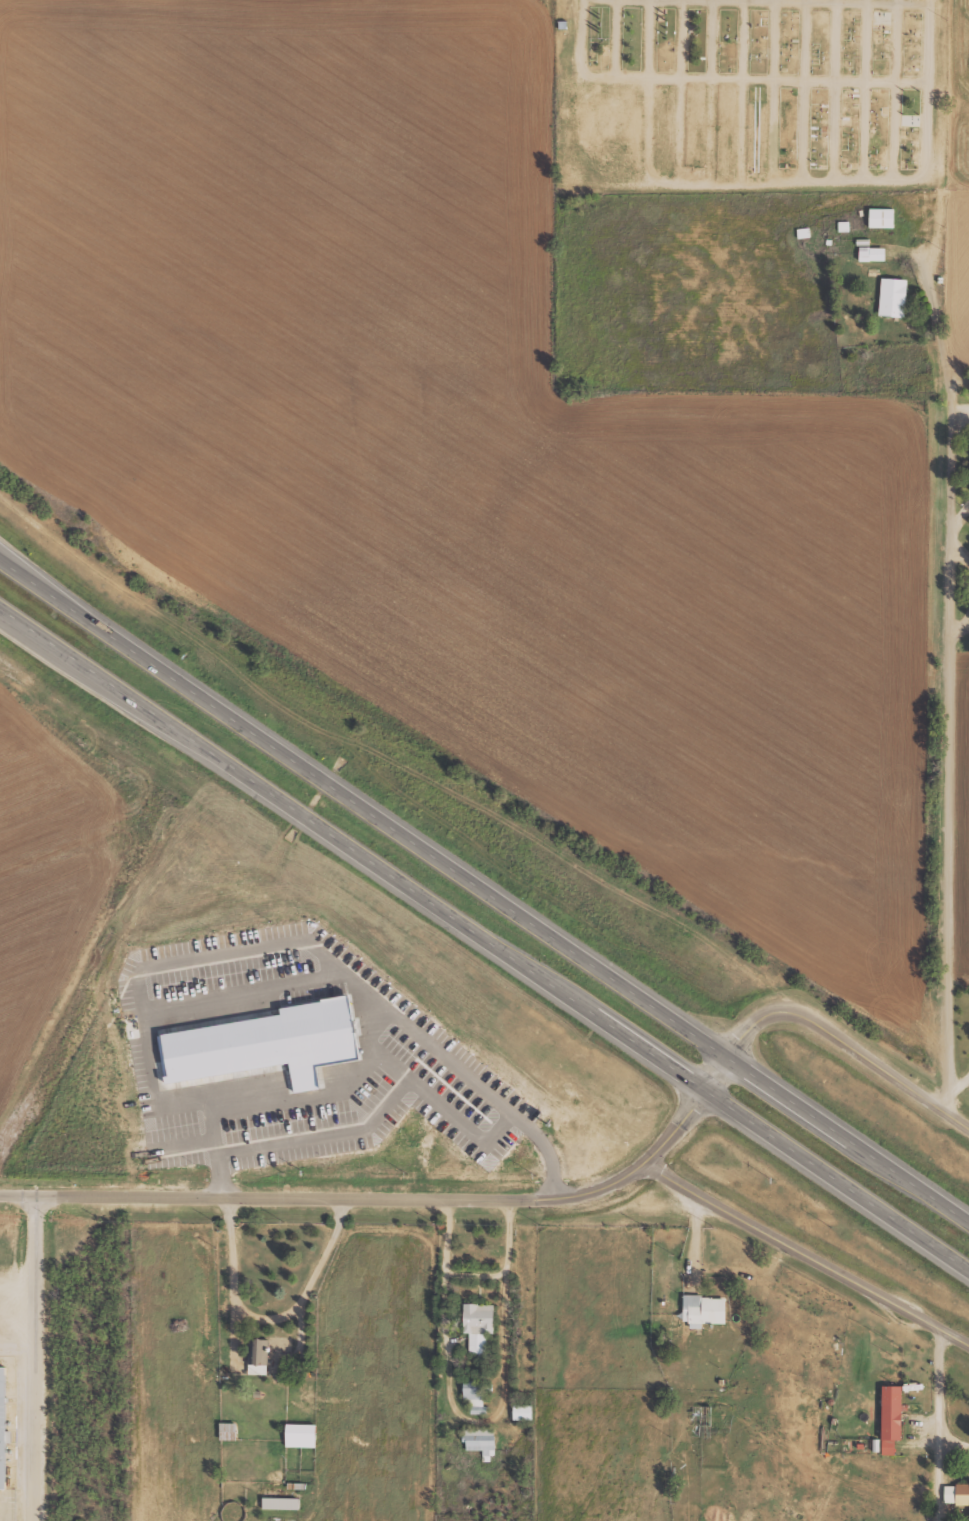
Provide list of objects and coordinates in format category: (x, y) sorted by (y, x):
road: (838, 1)
road: (617, 38)
road: (721, 77)
road: (865, 90)
road: (894, 90)
road: (772, 91)
road: (804, 91)
road: (835, 91)
road: (945, 91)
road: (649, 92)
road: (680, 92)
road: (712, 92)
road: (742, 92)
park: (744, 94)
road: (857, 181)
building: (882, 218)
building: (844, 226)
building: (872, 254)
building: (893, 297)
road: (30, 573)
road: (30, 578)
road: (13, 619)
road: (13, 621)
road: (951, 746)
road: (393, 830)
road: (368, 856)
road: (223, 953)
road: (260, 994)
building: (274, 1042)
road: (846, 1045)
road: (403, 1085)
road: (850, 1137)
road: (839, 1174)
road: (394, 1195)
road: (806, 1251)
building: (702, 1309)
building: (478, 1325)
building: (258, 1355)
road: (36, 1356)
building: (475, 1395)
building: (523, 1411)
building: (890, 1413)
road: (935, 1422)
building: (3, 1425)
building: (301, 1435)
building: (481, 1441)
building: (956, 1494)
building: (282, 1503)

